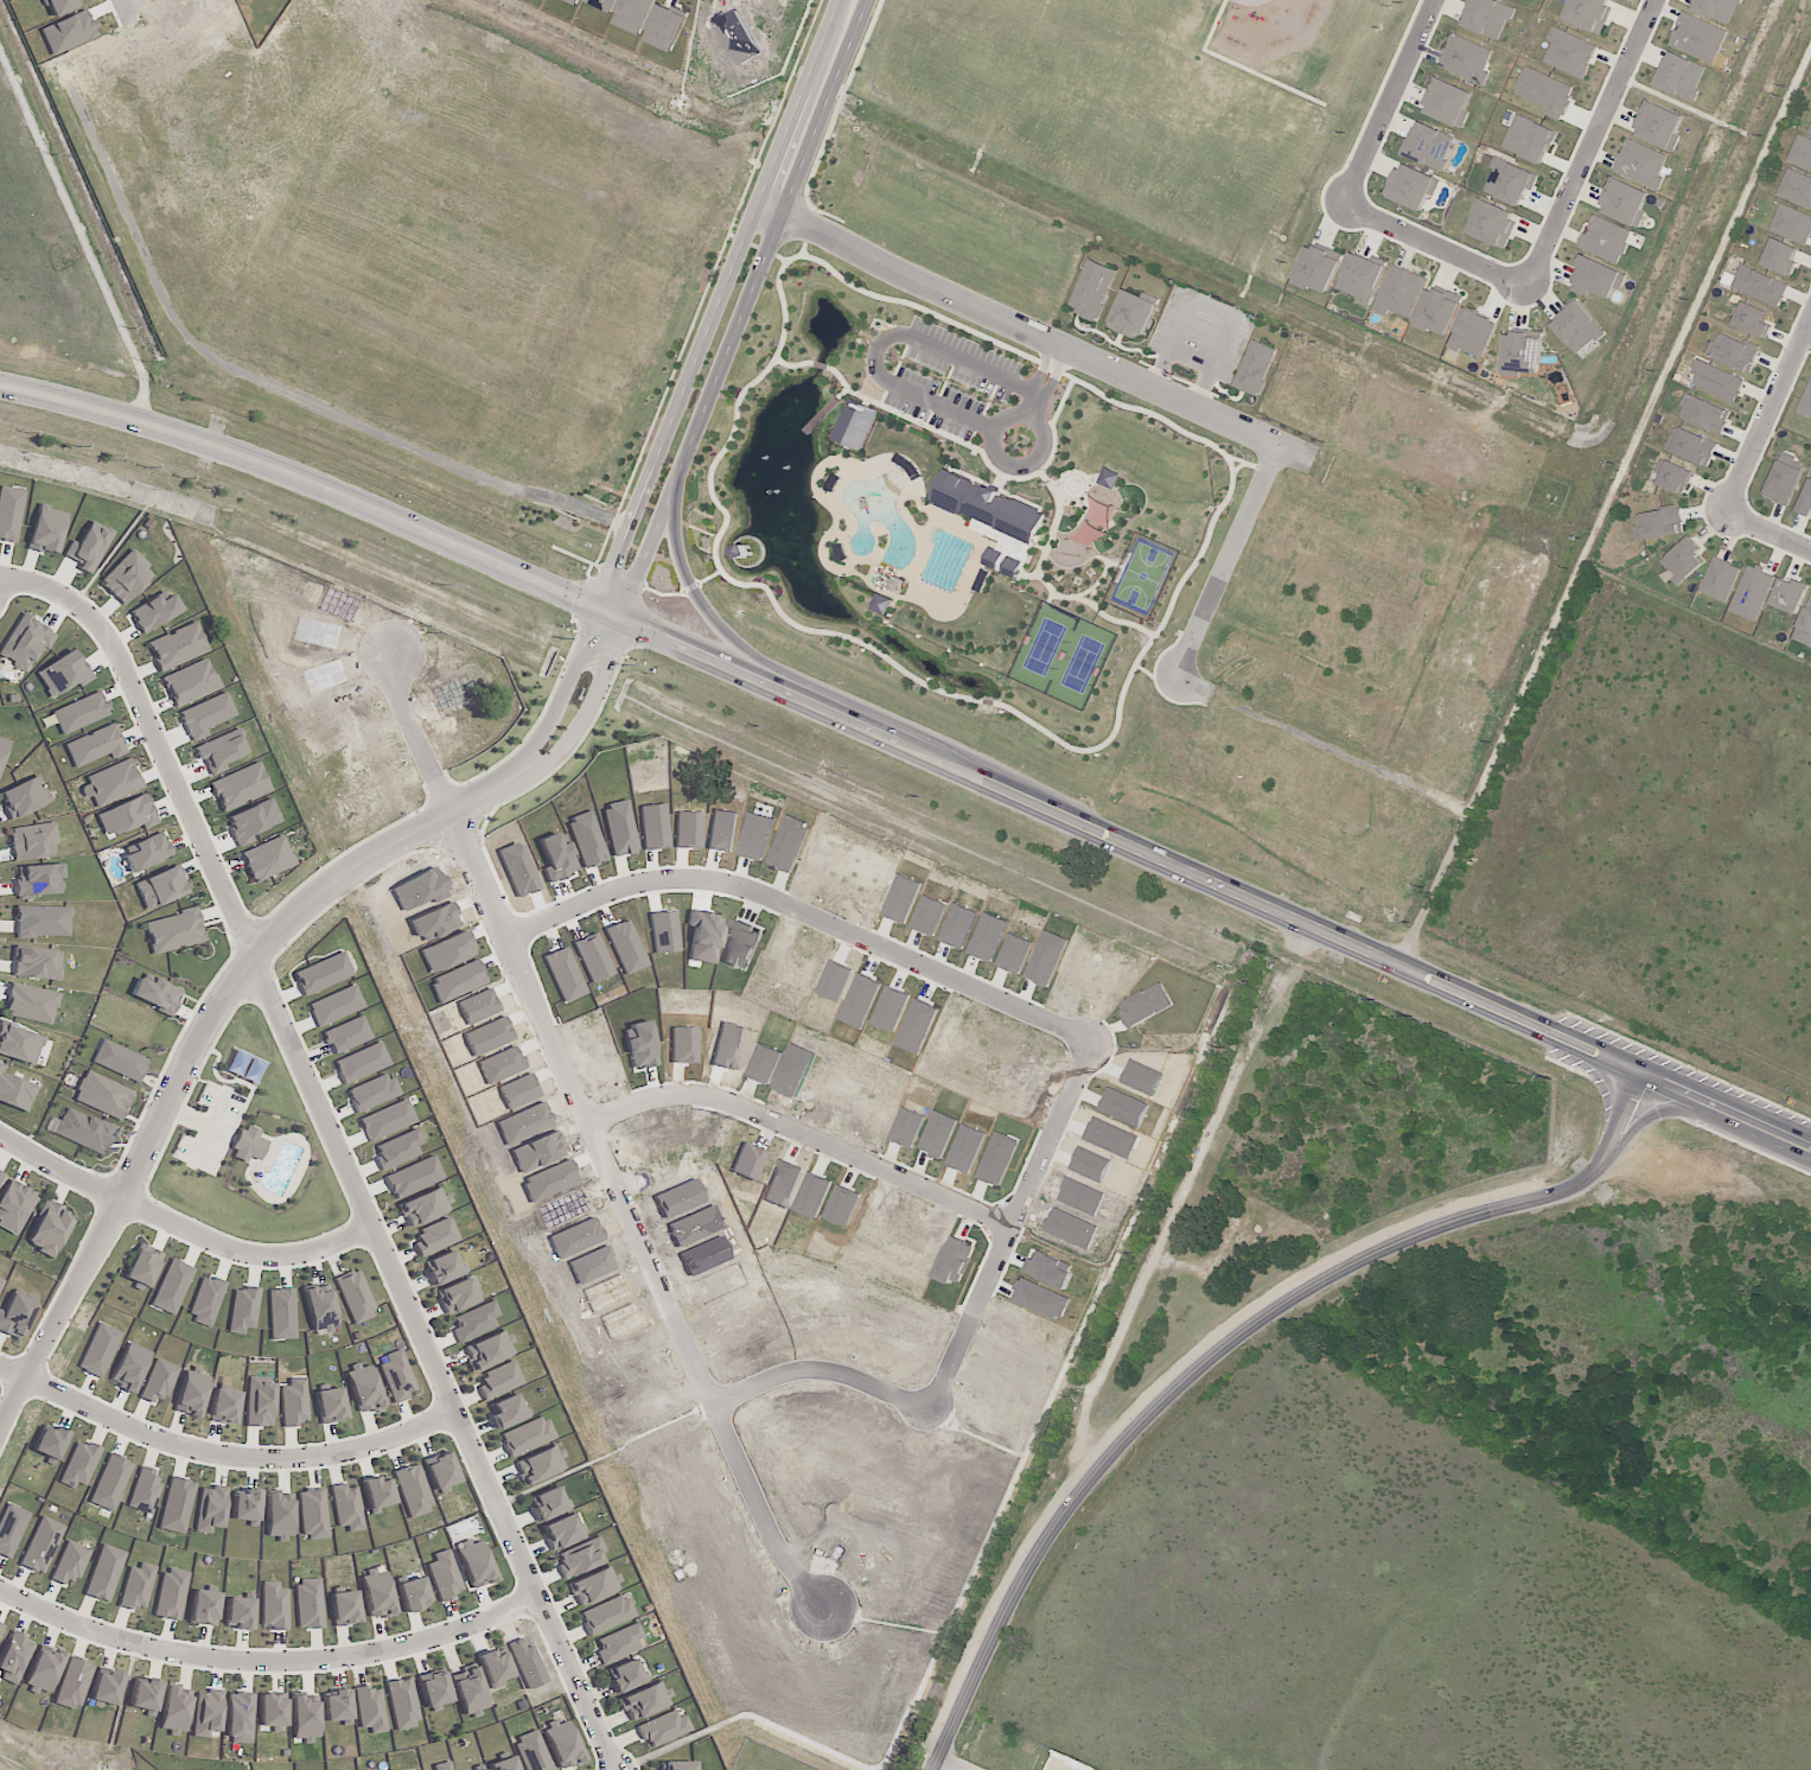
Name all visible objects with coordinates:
road: (134, 0)
building: (1715, 8)
road: (139, 13)
building: (1588, 13)
building: (1488, 17)
building: (1698, 37)
road: (397, 47)
building: (1569, 52)
building: (1466, 58)
building: (1681, 76)
building: (1545, 91)
road: (1385, 100)
building: (1447, 102)
building: (1659, 125)
building: (1809, 130)
building: (1529, 139)
road: (1587, 141)
building: (1429, 145)
building: (1800, 153)
road: (503, 155)
building: (1643, 163)
building: (1510, 182)
building: (1411, 186)
building: (1796, 189)
building: (1625, 202)
building: (1492, 223)
building: (1792, 223)
building: (1607, 237)
road: (1431, 242)
building: (1781, 256)
road: (287, 268)
building: (1316, 268)
building: (1360, 276)
building: (1598, 278)
building: (1760, 285)
building: (1092, 288)
building: (1399, 291)
road: (1214, 304)
road: (588, 305)
road: (734, 308)
building: (1436, 311)
road: (758, 312)
building: (1133, 314)
building: (1752, 319)
building: (1577, 327)
road: (1809, 329)
building: (1472, 333)
road: (1050, 343)
building: (1733, 351)
building: (1522, 352)
building: (1255, 368)
building: (1717, 380)
road: (892, 382)
building: (1805, 402)
building: (1704, 413)
road: (1767, 416)
building: (855, 425)
building: (1691, 445)
road: (1026, 463)
building: (1673, 476)
building: (1109, 478)
road: (1621, 479)
building: (1783, 483)
road: (1409, 499)
building: (1806, 501)
building: (9, 512)
building: (994, 520)
building: (1095, 520)
building: (1658, 523)
building: (46, 529)
road: (1767, 531)
building: (89, 546)
building: (747, 552)
building: (1683, 559)
road: (1239, 568)
building: (126, 578)
building: (1720, 579)
building: (1752, 592)
building: (1788, 594)
building: (882, 604)
building: (153, 612)
road: (719, 615)
traffic signals: (611, 617)
traffic signals: (633, 625)
building: (1804, 625)
road: (646, 631)
building: (25, 642)
building: (177, 647)
road: (1437, 654)
building: (65, 670)
building: (190, 682)
road: (1204, 692)
road: (579, 696)
road: (604, 712)
road: (1305, 738)
building: (95, 745)
building: (2, 747)
building: (218, 751)
building: (113, 782)
building: (238, 787)
building: (24, 797)
building: (126, 815)
building: (32, 841)
building: (147, 852)
building: (267, 858)
building: (39, 880)
building: (159, 887)
road: (818, 918)
building: (42, 921)
building: (173, 931)
road: (1414, 932)
building: (37, 963)
building: (323, 973)
building: (155, 994)
building: (31, 1004)
building: (489, 1011)
road: (1545, 1030)
road: (199, 1039)
building: (499, 1040)
building: (19, 1043)
building: (696, 1049)
building: (741, 1049)
building: (776, 1067)
building: (512, 1069)
road: (1607, 1085)
building: (14, 1091)
building: (102, 1095)
building: (531, 1096)
road: (1657, 1109)
road: (190, 1118)
building: (536, 1128)
parking lot: (212, 1129)
building: (83, 1131)
road: (610, 1141)
road: (816, 1141)
building: (248, 1145)
road: (336, 1145)
park: (249, 1146)
water park: (273, 1161)
building: (760, 1164)
building: (0, 1173)
building: (797, 1188)
road: (1184, 1199)
building: (14, 1205)
building: (425, 1206)
road: (180, 1224)
building: (49, 1229)
building: (435, 1236)
building: (142, 1266)
building: (441, 1268)
building: (1, 1281)
building: (455, 1295)
building: (355, 1297)
building: (320, 1309)
building: (242, 1310)
building: (15, 1317)
building: (474, 1322)
road: (977, 1335)
road: (1223, 1345)
building: (487, 1350)
road: (15, 1373)
building: (396, 1376)
building: (158, 1380)
building: (499, 1380)
building: (363, 1387)
building: (192, 1392)
building: (260, 1402)
building: (293, 1402)
building: (330, 1405)
building: (224, 1406)
building: (508, 1411)
building: (528, 1435)
building: (49, 1441)
road: (240, 1452)
building: (79, 1464)
building: (540, 1465)
building: (440, 1471)
building: (109, 1482)
building: (413, 1490)
building: (144, 1491)
building: (377, 1491)
building: (547, 1503)
building: (176, 1505)
building: (244, 1505)
building: (346, 1507)
building: (210, 1509)
building: (312, 1514)
building: (279, 1516)
building: (561, 1532)
building: (40, 1545)
building: (579, 1558)
building: (70, 1564)
building: (474, 1564)
building: (104, 1573)
building: (444, 1575)
building: (136, 1586)
building: (594, 1586)
building: (413, 1592)
building: (171, 1593)
building: (377, 1593)
building: (308, 1603)
building: (273, 1606)
building: (203, 1607)
building: (344, 1607)
building: (238, 1612)
building: (607, 1615)
building: (0, 1628)
building: (618, 1643)
road: (269, 1654)
building: (14, 1656)
building: (493, 1668)
building: (43, 1669)
building: (624, 1676)
building: (72, 1683)
building: (106, 1686)
building: (433, 1689)
building: (468, 1689)
building: (145, 1694)
building: (645, 1701)
building: (402, 1704)
building: (336, 1705)
building: (370, 1708)
building: (174, 1711)
building: (272, 1712)
building: (206, 1713)
building: (240, 1718)
building: (305, 1718)
building: (663, 1728)
building: (562, 1744)
building: (533, 1751)
road: (950, 1763)
building: (503, 1764)
building: (676, 1765)
building: (442, 1766)
building: (483, 1769)

